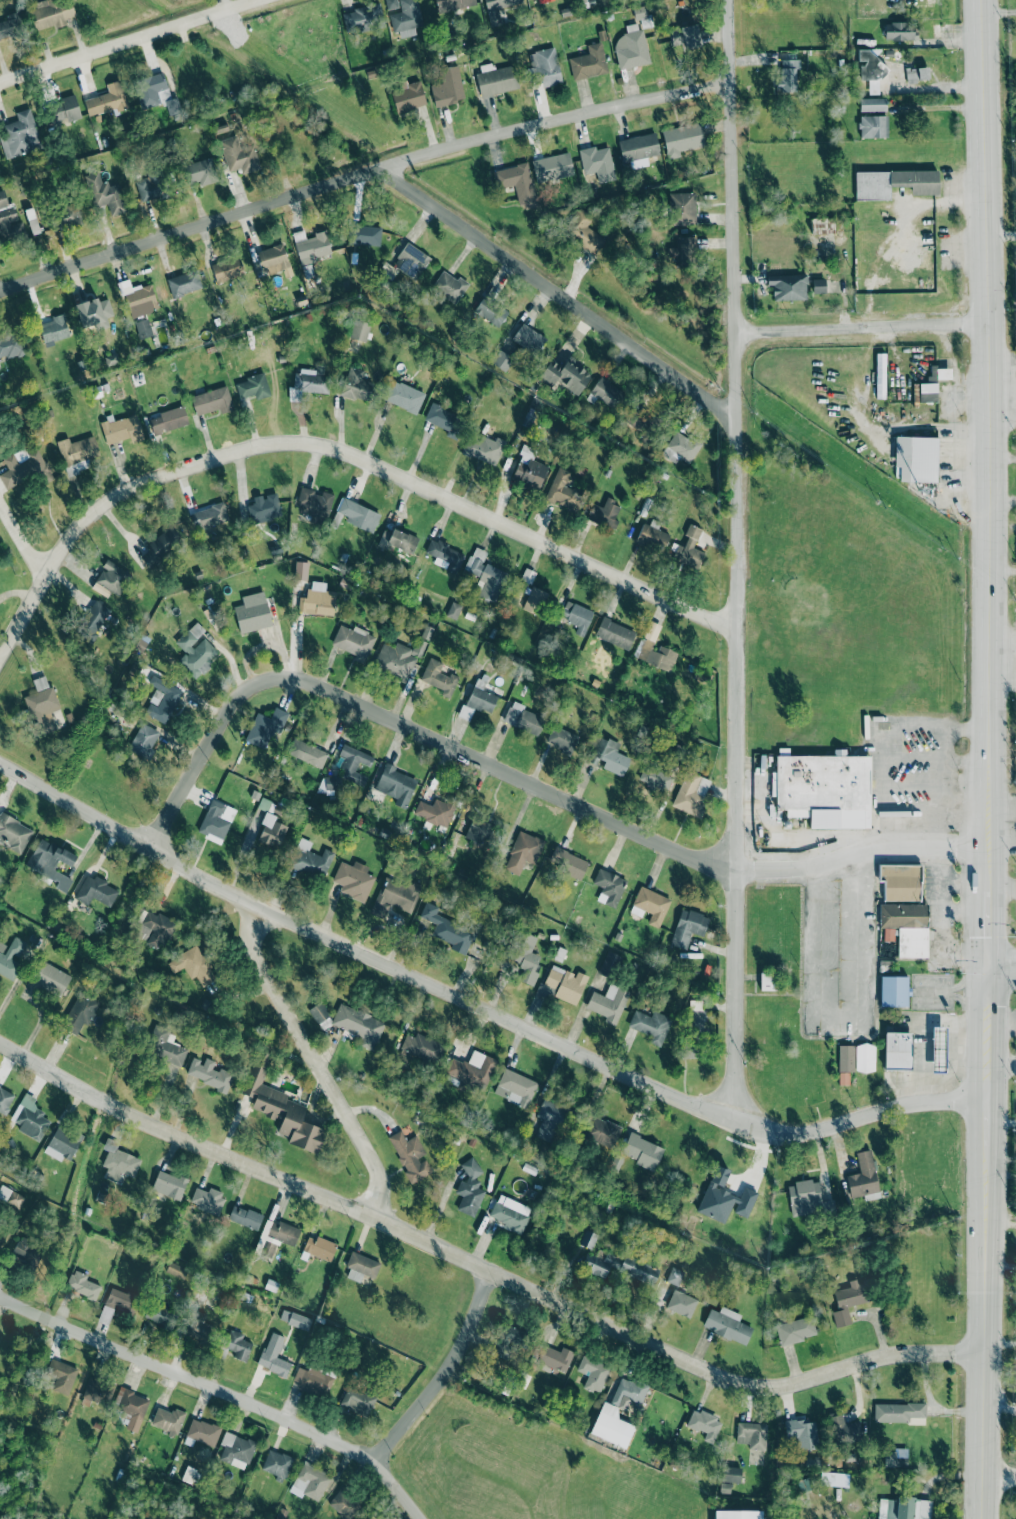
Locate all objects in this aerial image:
building: (585, 0)
building: (391, 4)
building: (453, 4)
building: (498, 9)
building: (51, 13)
building: (362, 17)
building: (406, 18)
building: (11, 25)
building: (898, 30)
building: (685, 35)
road: (133, 39)
building: (631, 47)
building: (589, 62)
building: (545, 66)
building: (870, 67)
building: (917, 74)
building: (788, 76)
building: (496, 79)
building: (448, 87)
building: (157, 93)
building: (407, 95)
building: (106, 100)
building: (872, 104)
road: (940, 108)
building: (64, 110)
road: (554, 124)
building: (873, 126)
building: (19, 135)
building: (683, 138)
building: (240, 154)
building: (597, 162)
building: (551, 167)
building: (200, 172)
road: (395, 181)
building: (517, 183)
building: (894, 183)
building: (150, 186)
building: (106, 194)
building: (683, 208)
building: (7, 215)
building: (66, 217)
building: (823, 225)
building: (583, 232)
road: (1003, 234)
building: (365, 235)
building: (312, 247)
building: (683, 251)
building: (273, 259)
building: (411, 261)
building: (227, 269)
building: (184, 283)
building: (819, 285)
building: (449, 286)
building: (788, 286)
building: (139, 298)
building: (93, 310)
building: (490, 311)
building: (54, 328)
building: (143, 328)
building: (359, 330)
road: (863, 330)
building: (529, 338)
building: (10, 344)
building: (501, 360)
building: (940, 373)
building: (564, 375)
building: (880, 375)
building: (308, 382)
building: (356, 385)
building: (253, 387)
building: (606, 392)
building: (928, 392)
building: (404, 396)
building: (212, 401)
building: (642, 419)
building: (168, 420)
building: (444, 420)
building: (122, 429)
building: (483, 448)
building: (681, 448)
building: (77, 453)
road: (342, 457)
building: (916, 458)
building: (25, 467)
building: (530, 472)
building: (562, 490)
building: (313, 504)
building: (264, 508)
building: (604, 513)
building: (358, 514)
building: (209, 516)
building: (652, 537)
building: (395, 540)
road: (21, 543)
building: (160, 546)
building: (689, 548)
building: (444, 555)
building: (475, 561)
road: (736, 562)
building: (110, 579)
building: (491, 582)
building: (318, 600)
building: (535, 600)
building: (453, 610)
building: (252, 616)
building: (577, 616)
building: (92, 621)
building: (615, 633)
building: (353, 641)
building: (654, 648)
building: (195, 650)
building: (397, 659)
building: (439, 677)
building: (479, 699)
building: (164, 701)
building: (42, 705)
building: (524, 719)
building: (265, 727)
road: (916, 728)
road: (947, 735)
building: (561, 739)
building: (144, 740)
building: (307, 753)
building: (610, 756)
road: (989, 759)
building: (353, 764)
building: (654, 778)
road: (522, 781)
building: (327, 784)
building: (396, 785)
building: (825, 789)
road: (884, 791)
road: (939, 793)
building: (691, 794)
building: (269, 806)
building: (435, 812)
building: (216, 821)
building: (478, 830)
building: (272, 831)
building: (14, 833)
building: (523, 852)
building: (311, 859)
building: (50, 862)
building: (567, 862)
building: (353, 880)
building: (901, 881)
building: (609, 887)
building: (95, 891)
building: (394, 895)
building: (651, 904)
building: (688, 927)
building: (907, 927)
building: (158, 928)
building: (447, 929)
building: (10, 957)
building: (525, 960)
building: (609, 964)
building: (196, 965)
road: (1003, 971)
traffic signals: (991, 972)
building: (52, 979)
building: (563, 985)
building: (894, 991)
building: (608, 1003)
road: (480, 1009)
building: (80, 1012)
building: (318, 1012)
building: (696, 1020)
building: (359, 1024)
building: (651, 1025)
building: (422, 1046)
building: (166, 1048)
building: (690, 1048)
building: (938, 1049)
building: (897, 1050)
building: (865, 1057)
road: (312, 1062)
building: (845, 1063)
building: (472, 1069)
building: (208, 1073)
building: (515, 1087)
building: (5, 1100)
building: (281, 1108)
building: (30, 1117)
building: (548, 1119)
building: (603, 1131)
building: (62, 1143)
building: (642, 1151)
building: (410, 1155)
building: (118, 1161)
building: (863, 1177)
building: (169, 1184)
building: (470, 1187)
building: (11, 1197)
building: (724, 1198)
building: (807, 1198)
building: (207, 1199)
building: (509, 1212)
building: (245, 1217)
building: (282, 1232)
building: (2, 1235)
building: (588, 1239)
building: (319, 1247)
building: (27, 1252)
building: (598, 1264)
building: (361, 1266)
road: (481, 1269)
building: (638, 1269)
building: (176, 1270)
building: (674, 1276)
building: (82, 1285)
building: (120, 1299)
building: (850, 1300)
building: (681, 1303)
building: (160, 1313)
building: (295, 1319)
building: (726, 1324)
building: (198, 1327)
building: (795, 1330)
building: (508, 1338)
building: (238, 1345)
building: (274, 1355)
building: (557, 1358)
building: (593, 1373)
road: (443, 1374)
building: (61, 1375)
building: (313, 1380)
building: (97, 1391)
road: (221, 1391)
building: (628, 1392)
building: (357, 1401)
building: (132, 1408)
building: (897, 1411)
building: (168, 1419)
building: (704, 1424)
building: (611, 1426)
building: (845, 1430)
building: (203, 1431)
building: (801, 1433)
building: (752, 1435)
building: (235, 1450)
building: (276, 1464)
building: (188, 1473)
building: (731, 1474)
road: (1000, 1477)
building: (310, 1482)
building: (725, 1487)
building: (344, 1503)
building: (904, 1509)
building: (738, 1514)

